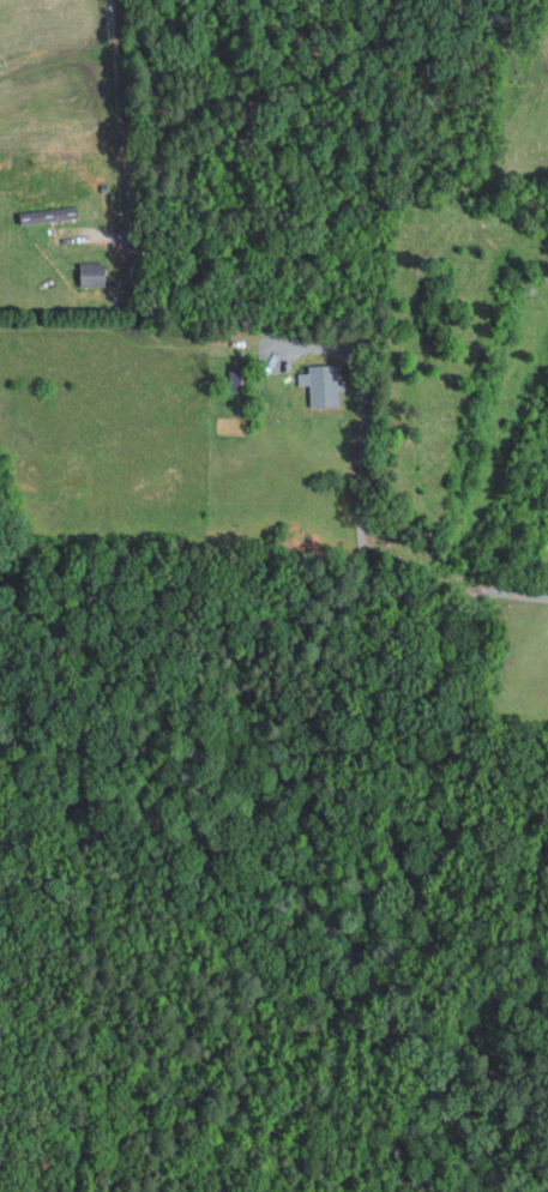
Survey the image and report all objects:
road: (121, 119)
building: (52, 215)
building: (94, 273)
building: (325, 385)
road: (362, 552)

